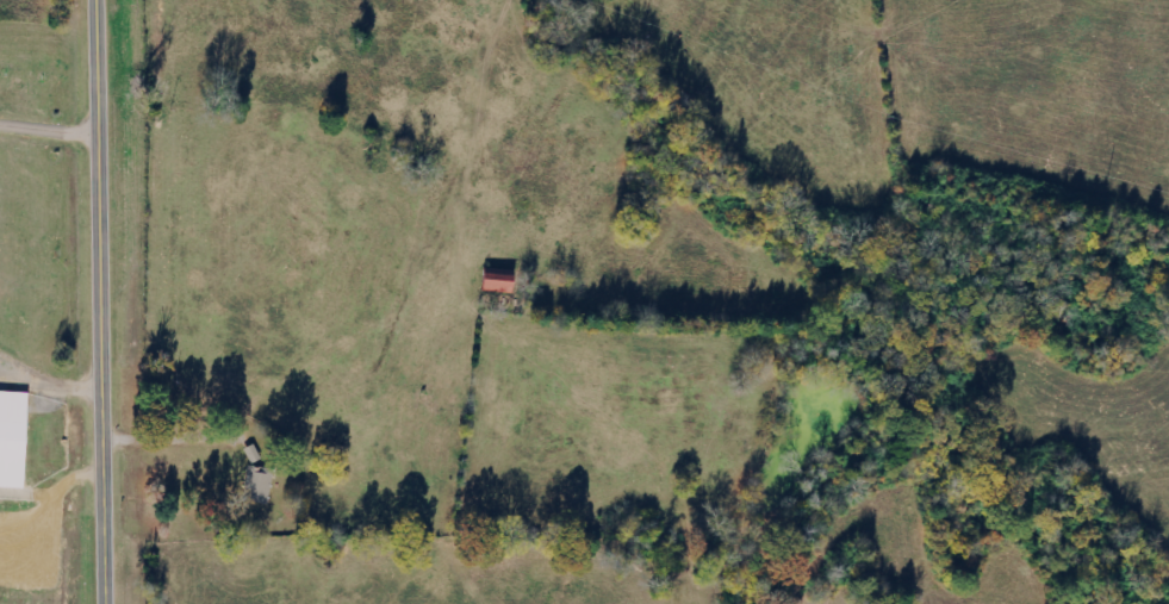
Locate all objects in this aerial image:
road: (51, 129)
building: (505, 286)
road: (105, 301)
building: (11, 436)
building: (263, 482)

